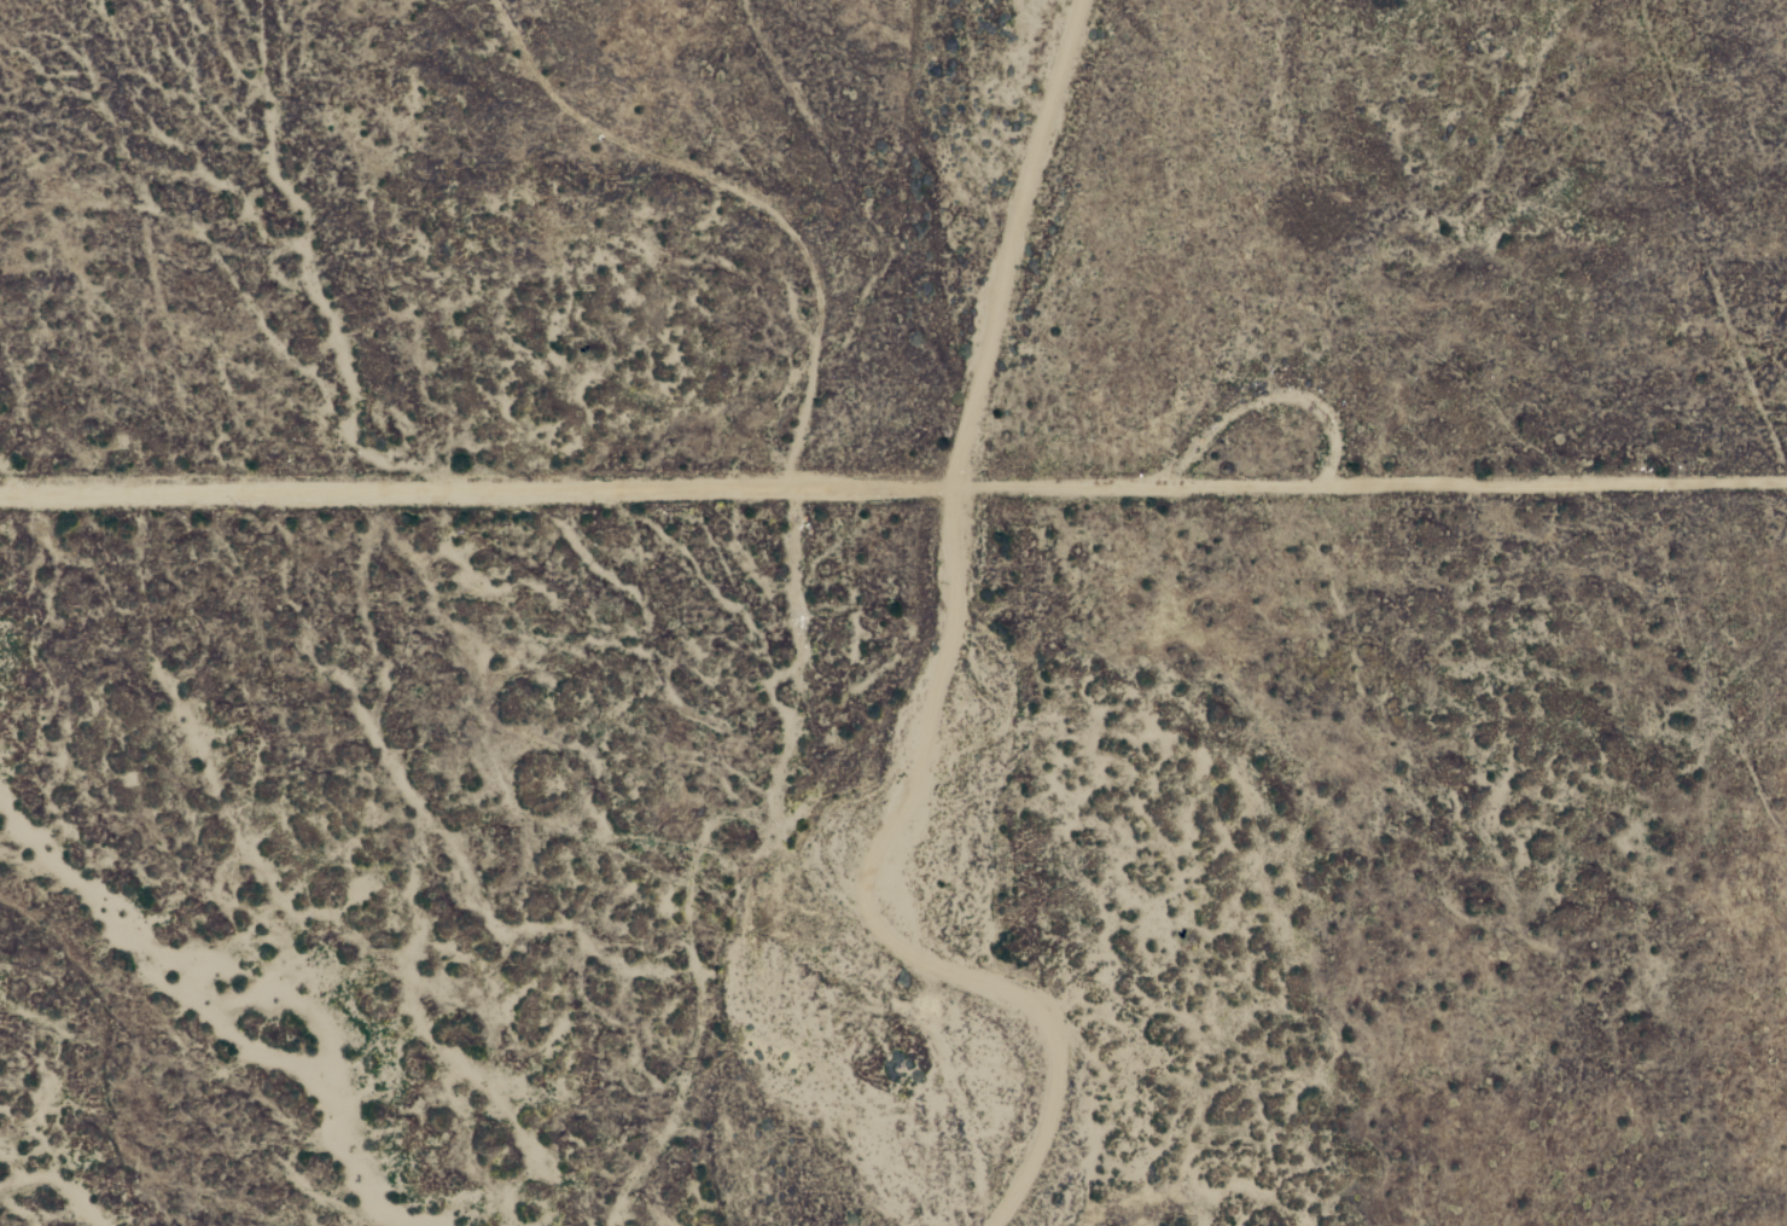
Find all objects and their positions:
road: (1023, 248)
road: (892, 495)
road: (854, 908)

